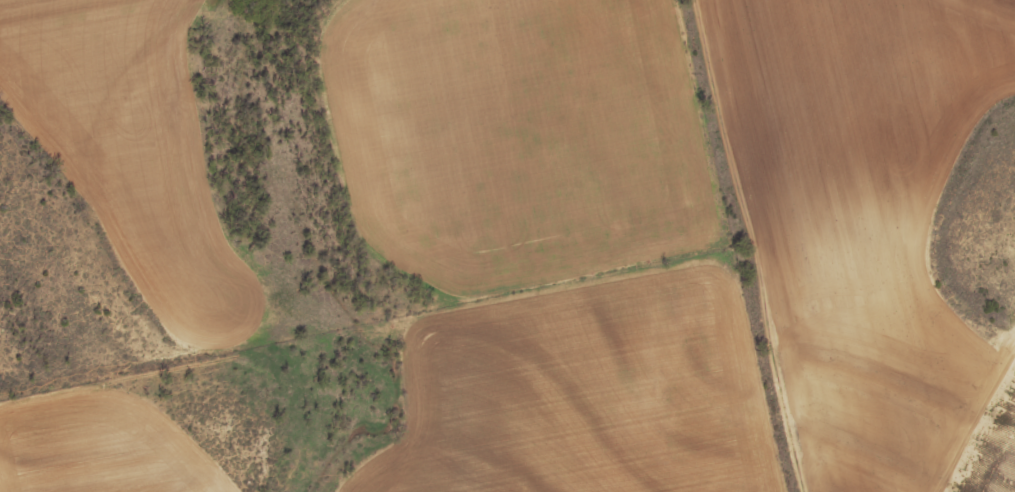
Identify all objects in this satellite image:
road: (727, 246)

